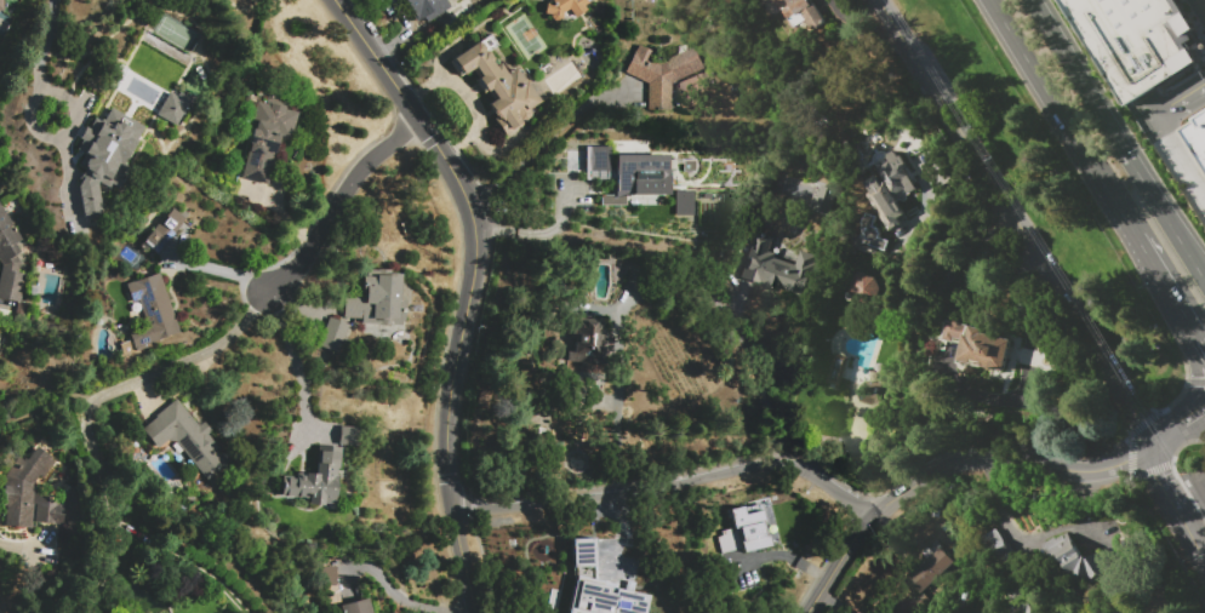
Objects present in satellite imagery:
road: (1201, 5)
building: (1, 6)
building: (1096, 6)
building: (427, 7)
building: (562, 7)
building: (800, 11)
road: (1129, 19)
road: (44, 46)
road: (1176, 52)
road: (1133, 70)
building: (662, 73)
parking lot: (1163, 82)
road: (1201, 84)
building: (498, 85)
road: (1178, 98)
building: (173, 107)
road: (1064, 119)
road: (1190, 130)
building: (1197, 136)
road: (53, 138)
building: (267, 138)
road: (1118, 138)
building: (630, 147)
road: (535, 155)
building: (104, 156)
building: (598, 159)
road: (1190, 160)
building: (690, 166)
building: (641, 174)
building: (897, 177)
park: (1046, 191)
building: (824, 199)
building: (613, 200)
road: (339, 202)
building: (684, 204)
road: (1016, 222)
building: (164, 230)
road: (526, 231)
building: (870, 234)
building: (10, 260)
building: (777, 267)
road: (1160, 271)
road: (667, 277)
building: (862, 286)
road: (470, 287)
building: (378, 300)
building: (21, 309)
building: (152, 310)
road: (1193, 326)
building: (333, 336)
building: (587, 340)
building: (1127, 340)
building: (981, 345)
road: (290, 359)
road: (1197, 368)
building: (838, 369)
road: (145, 379)
road: (1189, 417)
road: (1189, 428)
building: (349, 435)
building: (187, 437)
road: (1160, 437)
road: (947, 465)
park: (1193, 471)
building: (314, 479)
road: (1155, 481)
road: (668, 483)
parking lot: (1195, 485)
road: (1204, 492)
building: (29, 493)
road: (1197, 528)
building: (743, 531)
road: (1189, 537)
road: (15, 544)
building: (999, 549)
building: (1073, 555)
building: (930, 567)
building: (327, 574)
building: (596, 585)
road: (395, 595)
building: (356, 607)
building: (712, 612)

